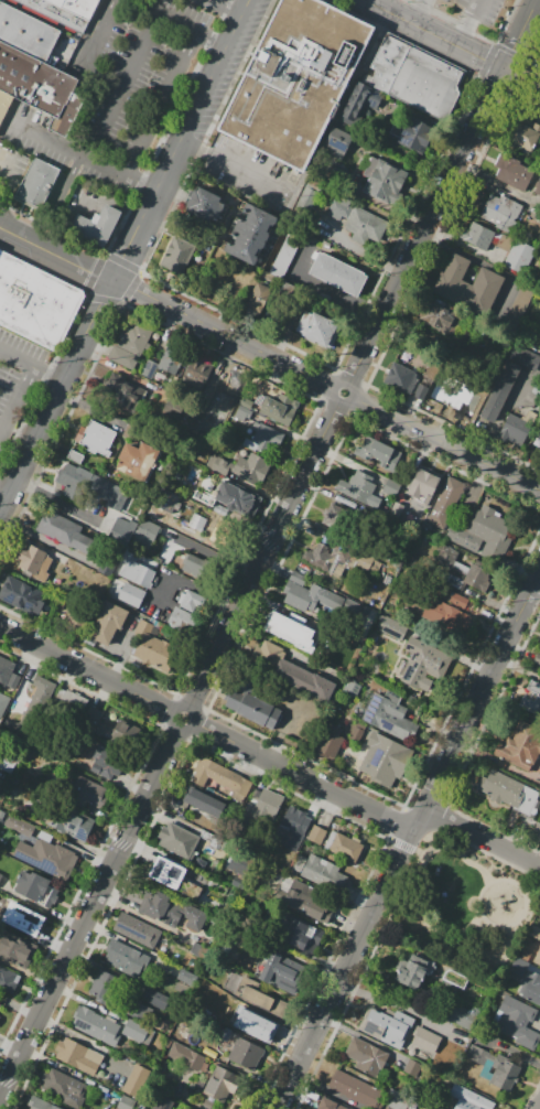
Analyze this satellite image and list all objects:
building: (78, 7)
road: (224, 8)
parking lot: (477, 9)
road: (418, 11)
building: (56, 13)
road: (47, 21)
road: (468, 23)
road: (144, 26)
building: (25, 32)
road: (431, 34)
road: (517, 34)
road: (212, 40)
building: (388, 63)
road: (519, 78)
building: (296, 79)
building: (426, 84)
building: (40, 86)
parking lot: (148, 87)
building: (358, 101)
building: (4, 105)
road: (161, 106)
road: (104, 114)
building: (523, 132)
building: (417, 136)
road: (181, 140)
building: (336, 143)
road: (4, 158)
road: (83, 159)
road: (235, 169)
building: (511, 172)
building: (384, 180)
building: (36, 183)
building: (537, 192)
building: (307, 197)
building: (204, 204)
building: (500, 212)
building: (359, 220)
building: (96, 225)
road: (1, 230)
road: (421, 230)
building: (249, 234)
building: (478, 236)
road: (460, 241)
road: (55, 254)
building: (177, 256)
building: (519, 256)
building: (283, 257)
building: (337, 273)
building: (467, 284)
road: (318, 290)
building: (258, 299)
building: (34, 301)
building: (519, 304)
building: (438, 315)
building: (316, 329)
building: (134, 337)
road: (226, 337)
building: (122, 357)
building: (525, 357)
building: (172, 358)
road: (32, 363)
building: (149, 368)
building: (194, 375)
building: (399, 377)
parking lot: (18, 380)
building: (225, 388)
building: (498, 390)
building: (120, 392)
building: (440, 397)
road: (55, 398)
road: (17, 399)
building: (246, 402)
building: (279, 409)
building: (242, 413)
road: (503, 417)
building: (516, 423)
building: (131, 430)
building: (193, 431)
building: (96, 438)
building: (538, 438)
building: (264, 439)
road: (441, 441)
building: (538, 444)
building: (380, 454)
building: (75, 455)
building: (138, 461)
building: (241, 466)
building: (80, 482)
building: (358, 487)
building: (391, 487)
building: (422, 487)
building: (107, 492)
road: (3, 497)
building: (231, 497)
building: (165, 499)
building: (129, 503)
building: (445, 503)
building: (395, 512)
building: (338, 516)
building: (161, 517)
building: (197, 521)
building: (123, 527)
building: (64, 531)
building: (484, 532)
building: (147, 534)
road: (266, 549)
building: (325, 556)
building: (369, 563)
building: (36, 564)
building: (105, 569)
building: (199, 569)
building: (137, 573)
building: (315, 573)
road: (539, 573)
building: (472, 574)
building: (298, 579)
building: (131, 593)
building: (21, 596)
building: (311, 597)
building: (452, 599)
building: (192, 602)
building: (349, 605)
building: (450, 617)
building: (182, 620)
building: (107, 623)
building: (283, 623)
building: (391, 631)
building: (539, 643)
building: (154, 648)
building: (267, 653)
building: (425, 659)
building: (537, 659)
road: (84, 670)
building: (8, 676)
building: (304, 679)
building: (352, 689)
building: (532, 698)
building: (75, 701)
building: (3, 703)
road: (181, 703)
building: (34, 708)
building: (253, 709)
building: (388, 714)
building: (94, 715)
building: (117, 730)
building: (356, 736)
building: (330, 742)
building: (520, 745)
building: (384, 760)
building: (107, 762)
building: (218, 776)
road: (304, 777)
building: (508, 792)
building: (87, 793)
building: (205, 803)
building: (267, 806)
building: (76, 825)
building: (19, 826)
building: (292, 828)
building: (536, 833)
building: (316, 835)
road: (482, 838)
building: (177, 840)
road: (409, 840)
building: (346, 848)
road: (456, 850)
building: (47, 858)
road: (485, 858)
building: (162, 871)
building: (240, 871)
building: (320, 872)
road: (422, 872)
building: (0, 875)
road: (526, 882)
building: (35, 889)
building: (304, 900)
park: (467, 905)
building: (170, 911)
road: (89, 913)
road: (497, 924)
building: (28, 925)
building: (138, 930)
road: (431, 930)
building: (534, 932)
building: (299, 934)
building: (15, 949)
building: (525, 955)
building: (537, 957)
building: (126, 958)
building: (519, 967)
building: (414, 970)
building: (280, 971)
building: (186, 977)
building: (453, 977)
building: (8, 980)
building: (104, 986)
building: (530, 988)
building: (207, 992)
building: (155, 1000)
building: (263, 1001)
building: (141, 1011)
building: (460, 1015)
building: (517, 1021)
building: (95, 1025)
building: (257, 1026)
building: (386, 1027)
building: (138, 1032)
building: (425, 1041)
building: (245, 1053)
building: (477, 1054)
building: (78, 1056)
building: (186, 1056)
building: (367, 1056)
building: (412, 1067)
building: (504, 1073)
building: (134, 1083)
building: (222, 1085)
building: (64, 1087)
building: (355, 1089)
building: (468, 1099)
building: (396, 1100)
building: (162, 1102)
building: (40, 1103)
building: (127, 1103)
building: (330, 1105)

